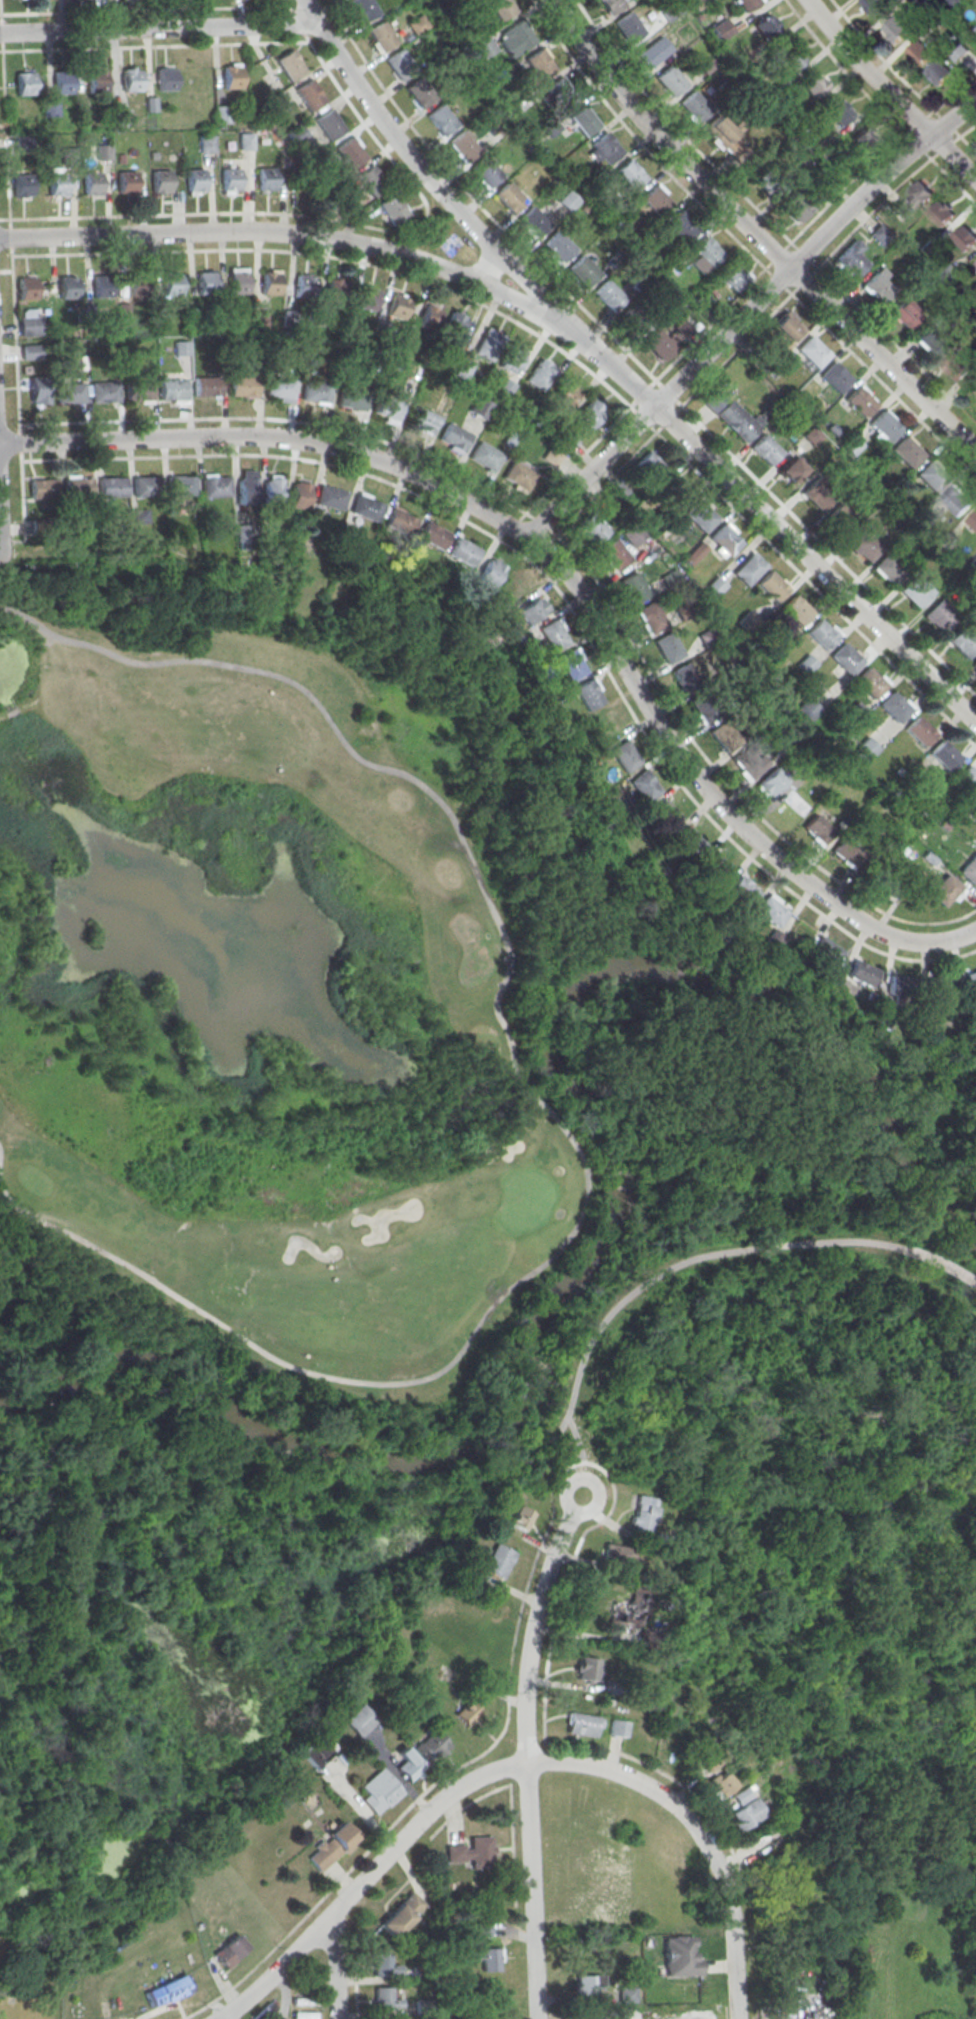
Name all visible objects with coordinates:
building: (956, 2)
building: (612, 4)
building: (747, 4)
building: (975, 4)
road: (288, 5)
building: (874, 6)
building: (365, 8)
building: (502, 8)
road: (143, 9)
road: (0, 17)
road: (296, 22)
building: (418, 24)
building: (629, 26)
building: (766, 26)
road: (158, 27)
building: (722, 29)
building: (896, 29)
road: (1, 31)
building: (520, 34)
building: (382, 35)
road: (154, 46)
building: (485, 47)
building: (959, 51)
building: (919, 53)
building: (652, 54)
building: (793, 57)
building: (400, 63)
building: (540, 63)
building: (292, 66)
building: (939, 72)
building: (232, 75)
road: (901, 78)
building: (166, 80)
building: (672, 80)
building: (132, 81)
building: (97, 82)
building: (63, 83)
building: (25, 84)
building: (816, 84)
building: (421, 91)
building: (562, 92)
road: (888, 94)
building: (310, 96)
building: (276, 104)
road: (875, 107)
building: (695, 108)
building: (52, 109)
building: (838, 111)
building: (223, 115)
building: (121, 118)
building: (442, 119)
building: (584, 120)
building: (331, 126)
road: (4, 134)
building: (297, 134)
building: (724, 137)
building: (870, 140)
building: (246, 142)
building: (207, 144)
building: (464, 145)
building: (607, 147)
building: (104, 153)
building: (351, 154)
building: (69, 157)
building: (487, 171)
building: (631, 174)
building: (231, 180)
building: (266, 180)
building: (195, 181)
building: (372, 181)
building: (770, 181)
building: (161, 182)
building: (127, 183)
building: (92, 184)
building: (58, 185)
building: (23, 186)
building: (510, 196)
building: (915, 198)
building: (656, 201)
road: (477, 202)
building: (566, 203)
building: (394, 210)
building: (941, 213)
road: (328, 218)
road: (767, 220)
building: (534, 221)
building: (682, 226)
road: (754, 234)
building: (879, 234)
road: (10, 236)
road: (310, 236)
building: (965, 237)
building: (560, 245)
road: (744, 247)
building: (708, 250)
road: (824, 259)
building: (851, 260)
road: (5, 270)
road: (491, 270)
building: (584, 271)
building: (732, 275)
building: (238, 283)
building: (206, 284)
building: (271, 284)
building: (137, 285)
building: (172, 285)
building: (102, 287)
building: (305, 287)
building: (27, 288)
building: (68, 288)
building: (877, 288)
building: (335, 291)
building: (609, 294)
road: (736, 296)
building: (368, 299)
building: (398, 306)
road: (744, 314)
building: (905, 314)
building: (430, 318)
building: (635, 319)
building: (29, 322)
building: (787, 326)
building: (455, 327)
road: (14, 339)
building: (931, 340)
building: (660, 344)
building: (489, 345)
building: (181, 348)
road: (562, 350)
building: (29, 351)
building: (812, 351)
building: (512, 358)
building: (957, 366)
building: (540, 373)
road: (624, 375)
building: (835, 377)
building: (208, 386)
building: (243, 386)
building: (281, 387)
building: (38, 390)
building: (173, 390)
building: (139, 391)
building: (317, 392)
building: (105, 393)
building: (70, 394)
building: (565, 394)
building: (353, 399)
building: (860, 402)
building: (389, 407)
building: (481, 407)
building: (590, 414)
building: (731, 415)
building: (423, 421)
building: (885, 425)
building: (813, 436)
building: (455, 437)
road: (19, 441)
building: (766, 449)
building: (907, 452)
building: (486, 455)
building: (551, 456)
road: (736, 459)
building: (650, 466)
building: (790, 468)
road: (618, 470)
building: (519, 472)
building: (931, 476)
building: (246, 486)
building: (147, 487)
building: (181, 487)
building: (216, 487)
building: (43, 489)
building: (77, 489)
building: (112, 489)
building: (273, 489)
building: (676, 492)
building: (817, 494)
building: (299, 495)
road: (21, 498)
building: (331, 499)
building: (957, 500)
building: (366, 509)
building: (700, 515)
building: (138, 516)
building: (842, 519)
building: (973, 520)
building: (400, 522)
building: (592, 529)
building: (432, 535)
building: (240, 536)
building: (725, 539)
building: (865, 545)
road: (569, 549)
building: (463, 551)
building: (614, 554)
road: (558, 568)
building: (749, 568)
building: (889, 568)
building: (489, 572)
building: (772, 585)
building: (514, 586)
building: (633, 587)
building: (916, 590)
road: (561, 597)
building: (797, 609)
building: (530, 610)
building: (941, 615)
building: (650, 617)
road: (896, 617)
building: (552, 634)
building: (822, 634)
building: (962, 641)
building: (668, 647)
building: (847, 657)
building: (806, 663)
building: (569, 664)
building: (974, 666)
building: (684, 678)
building: (870, 681)
building: (586, 694)
building: (895, 706)
building: (704, 707)
building: (808, 709)
building: (603, 725)
building: (920, 731)
building: (720, 734)
building: (862, 752)
building: (944, 753)
building: (622, 756)
building: (751, 764)
building: (969, 776)
building: (770, 783)
building: (641, 785)
building: (663, 814)
building: (817, 829)
building: (688, 841)
building: (849, 851)
building: (713, 867)
building: (969, 868)
building: (890, 884)
building: (944, 889)
building: (742, 890)
building: (769, 910)
building: (771, 939)
building: (823, 951)
building: (860, 972)
building: (972, 979)
building: (900, 986)
building: (943, 987)
park: (266, 1009)
river: (819, 1023)
road: (541, 1109)
park: (419, 1225)
road: (935, 1263)
road: (645, 1277)
river: (479, 1451)
building: (644, 1514)
building: (518, 1519)
building: (619, 1554)
building: (495, 1561)
building: (631, 1611)
building: (587, 1669)
building: (468, 1711)
building: (356, 1721)
building: (584, 1724)
road: (544, 1728)
building: (619, 1728)
building: (431, 1746)
building: (313, 1753)
road: (525, 1753)
road: (518, 1764)
building: (408, 1765)
building: (721, 1784)
building: (378, 1791)
road: (412, 1803)
building: (747, 1814)
building: (329, 1847)
building: (473, 1852)
building: (401, 1914)
building: (483, 1928)
building: (228, 1951)
building: (487, 1956)
building: (679, 1956)
road: (334, 1965)
building: (383, 1967)
building: (167, 1991)
building: (626, 1994)
building: (386, 1999)
road: (234, 2013)
road: (815, 2016)

